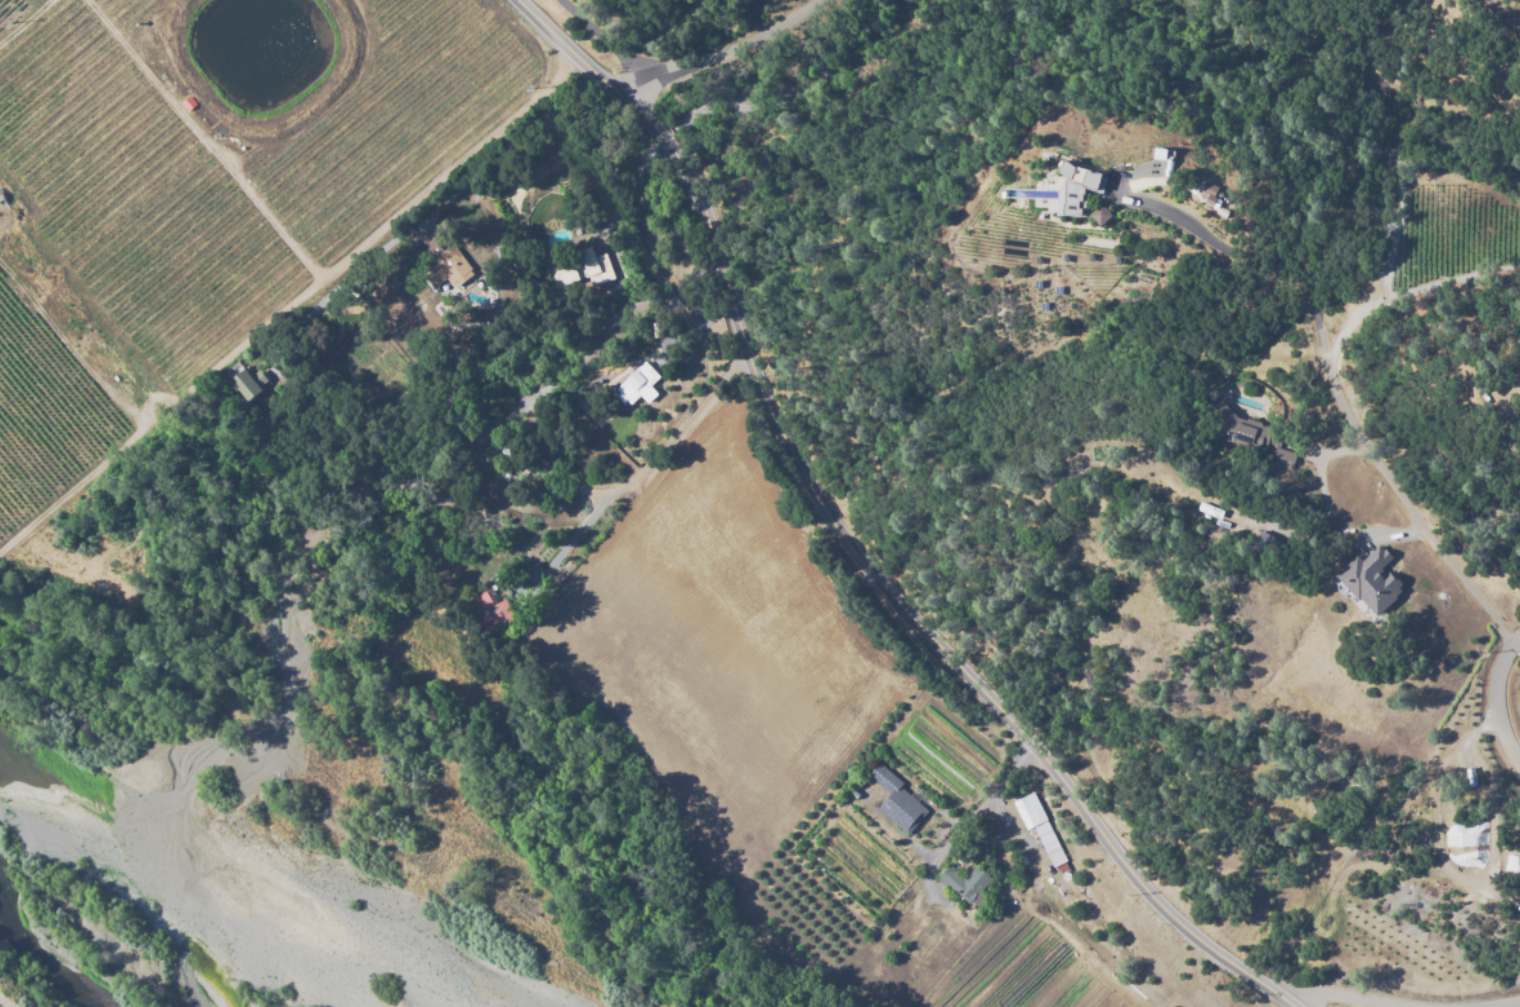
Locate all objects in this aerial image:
road: (1501, 12)
road: (605, 41)
road: (725, 51)
building: (1178, 154)
building: (1088, 180)
building: (1220, 196)
road: (444, 204)
building: (1105, 214)
building: (1117, 215)
road: (1227, 249)
building: (449, 264)
building: (578, 268)
building: (251, 381)
building: (641, 384)
building: (1254, 437)
road: (642, 467)
road: (1401, 493)
building: (1207, 510)
road: (849, 542)
building: (1268, 546)
building: (1371, 582)
building: (496, 610)
road: (1492, 700)
road: (968, 823)
building: (1037, 825)
building: (1512, 865)
building: (967, 882)
river: (69, 942)
road: (1498, 1003)
road: (1388, 1005)

